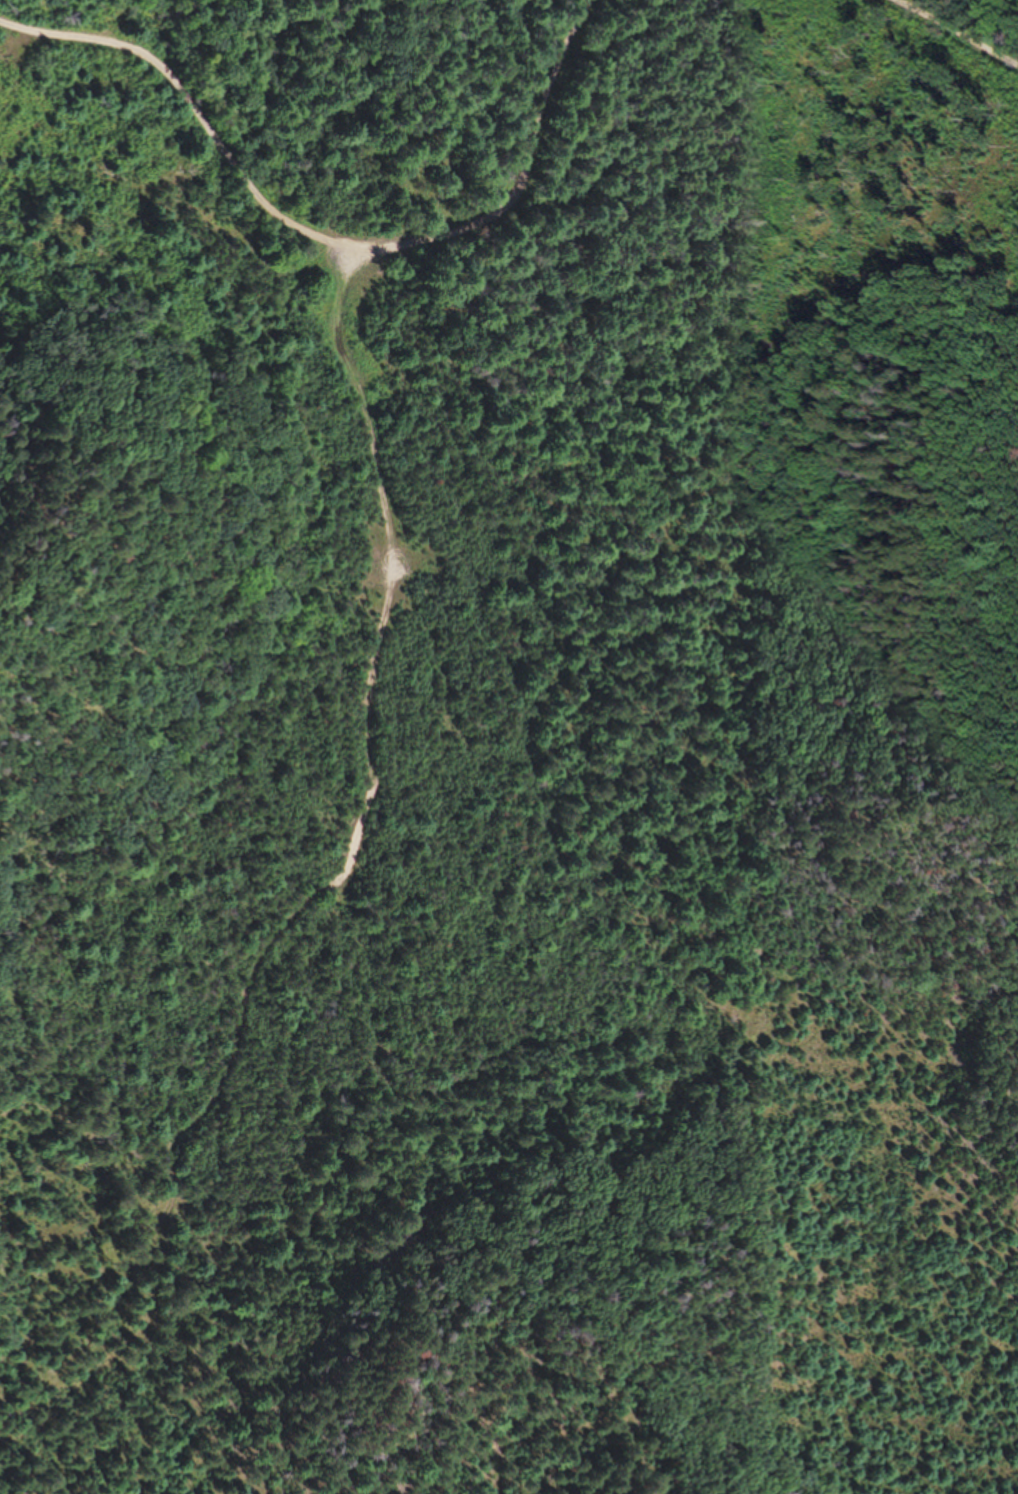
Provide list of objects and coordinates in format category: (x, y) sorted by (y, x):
road: (496, 170)

